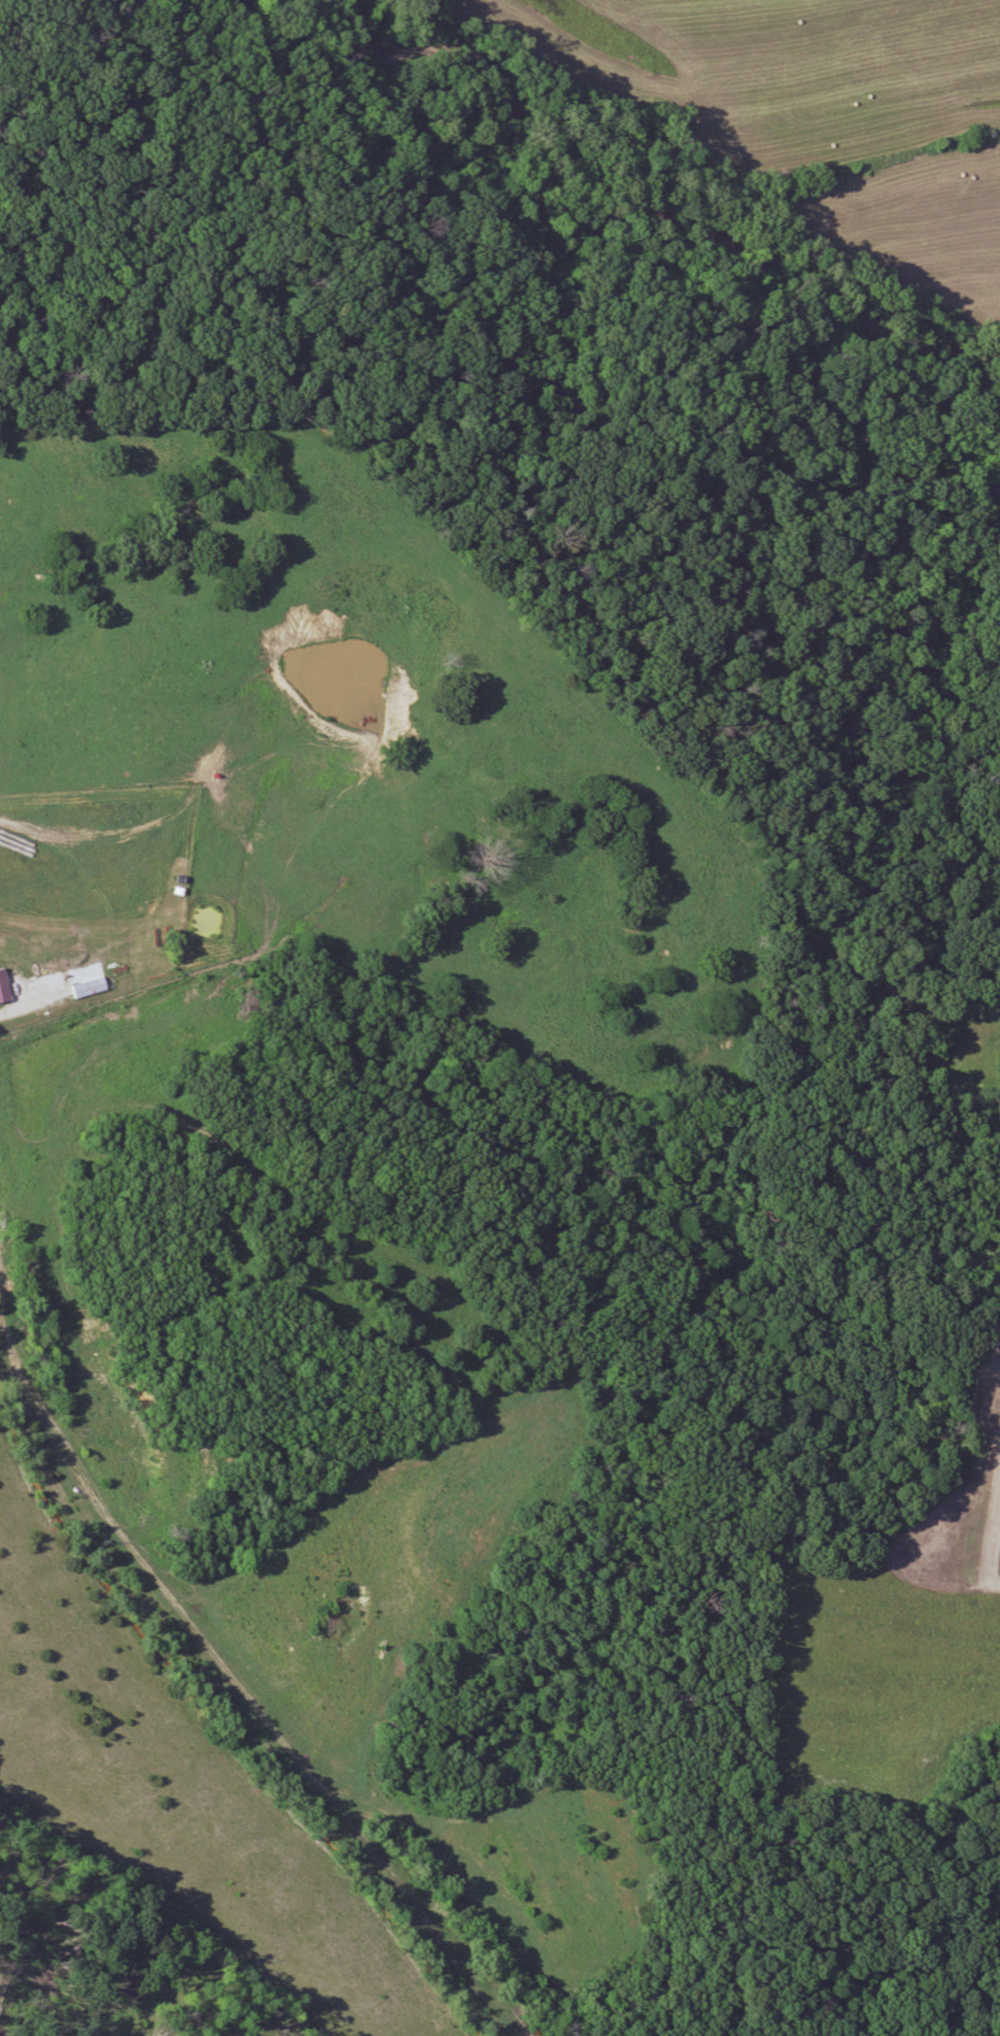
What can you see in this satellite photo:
building: (21, 844)
building: (46, 978)
building: (4, 987)
building: (90, 987)
road: (33, 997)
building: (5, 1268)
road: (129, 1549)

